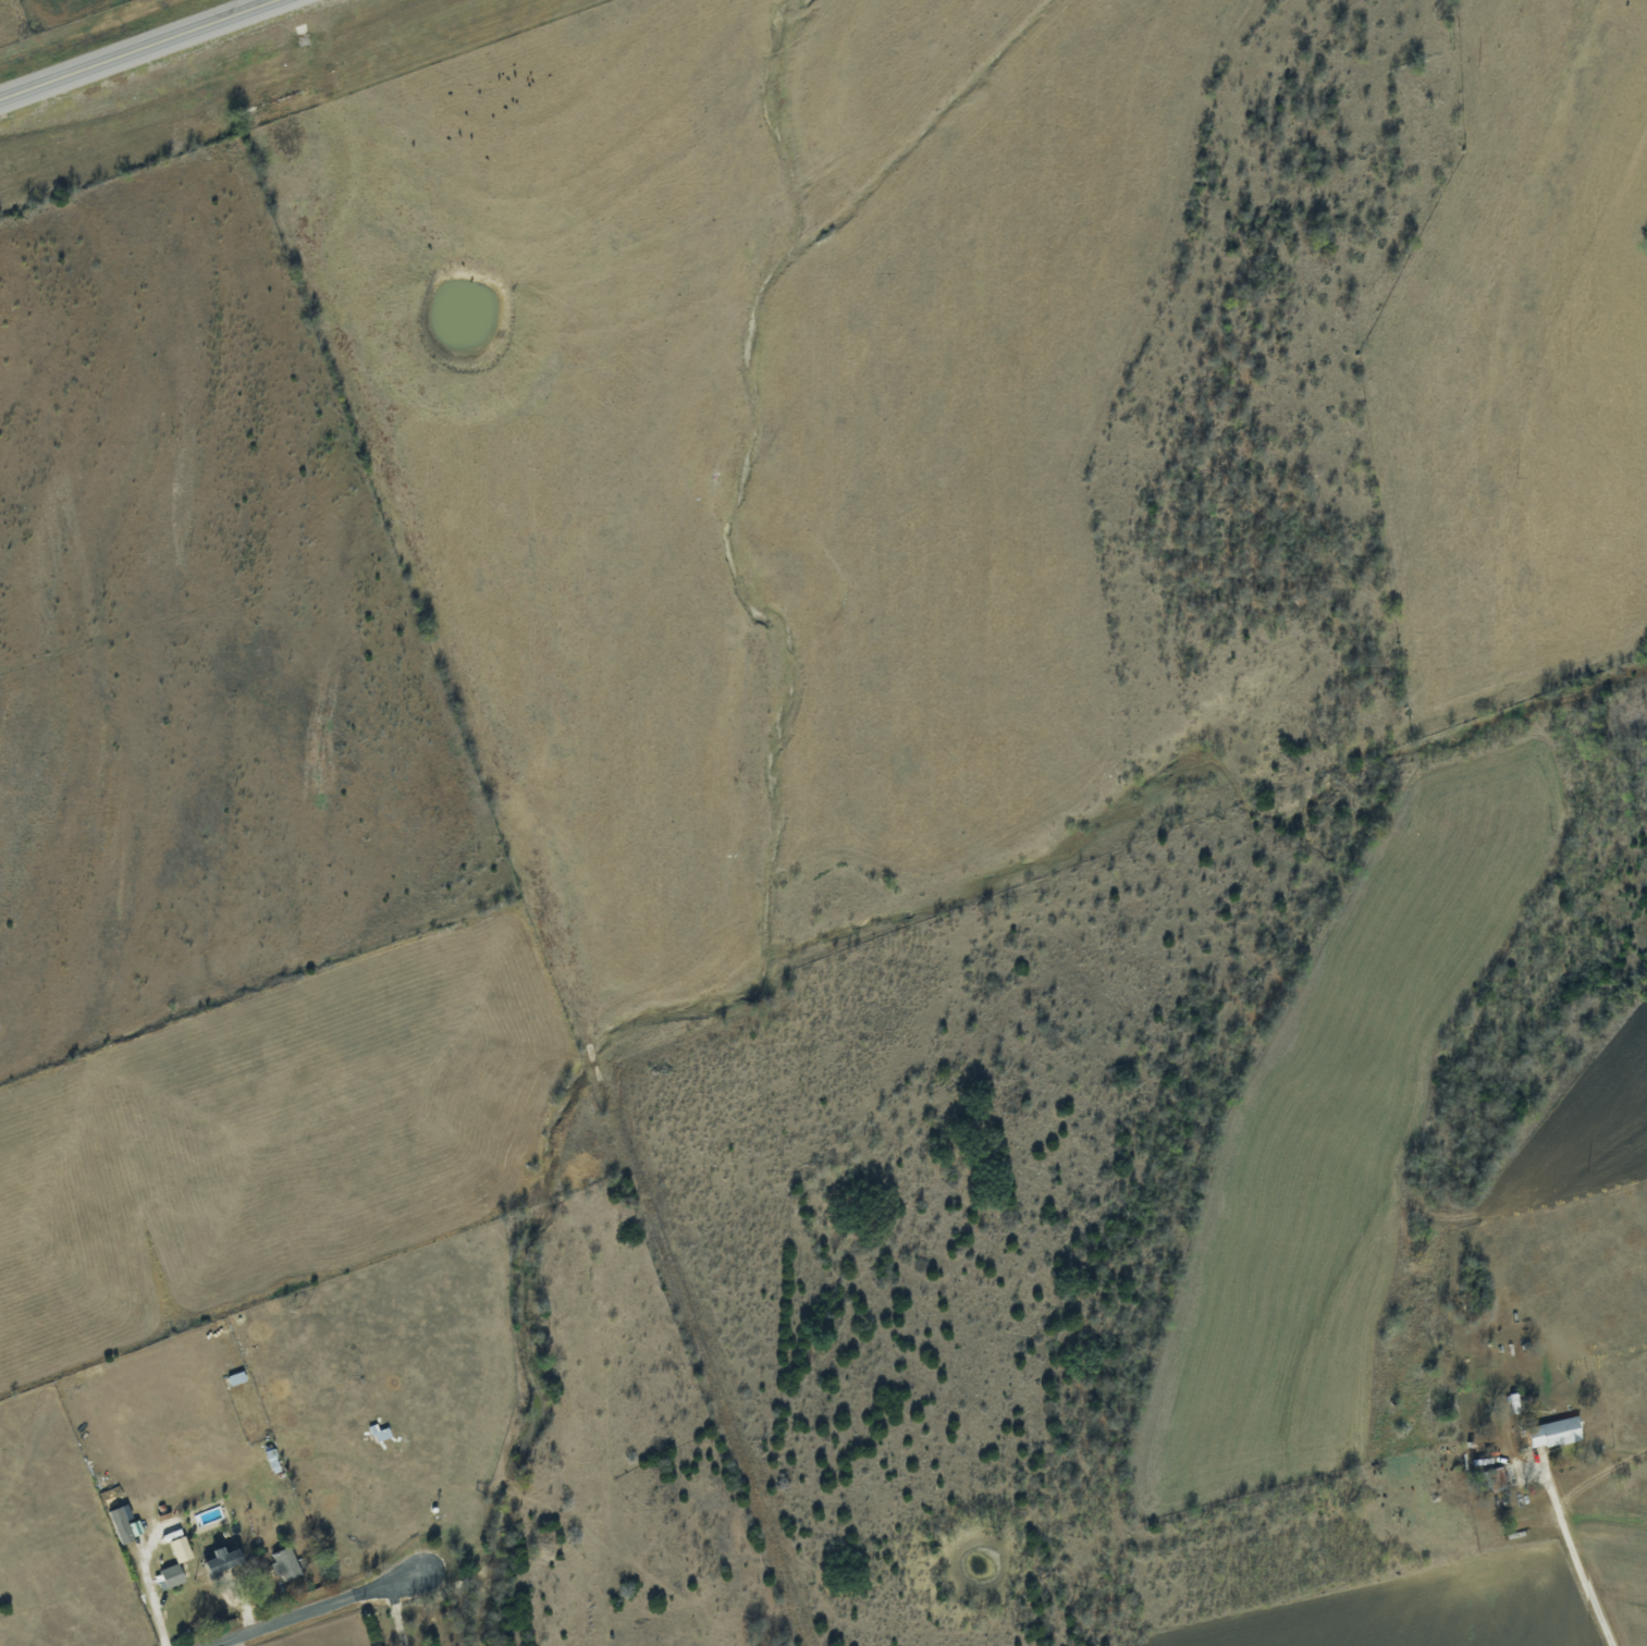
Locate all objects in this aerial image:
road: (116, 39)
building: (1554, 1432)
building: (223, 1560)
building: (179, 1563)
building: (285, 1563)
road: (1577, 1568)
road: (151, 1594)
road: (315, 1611)
road: (397, 1616)

